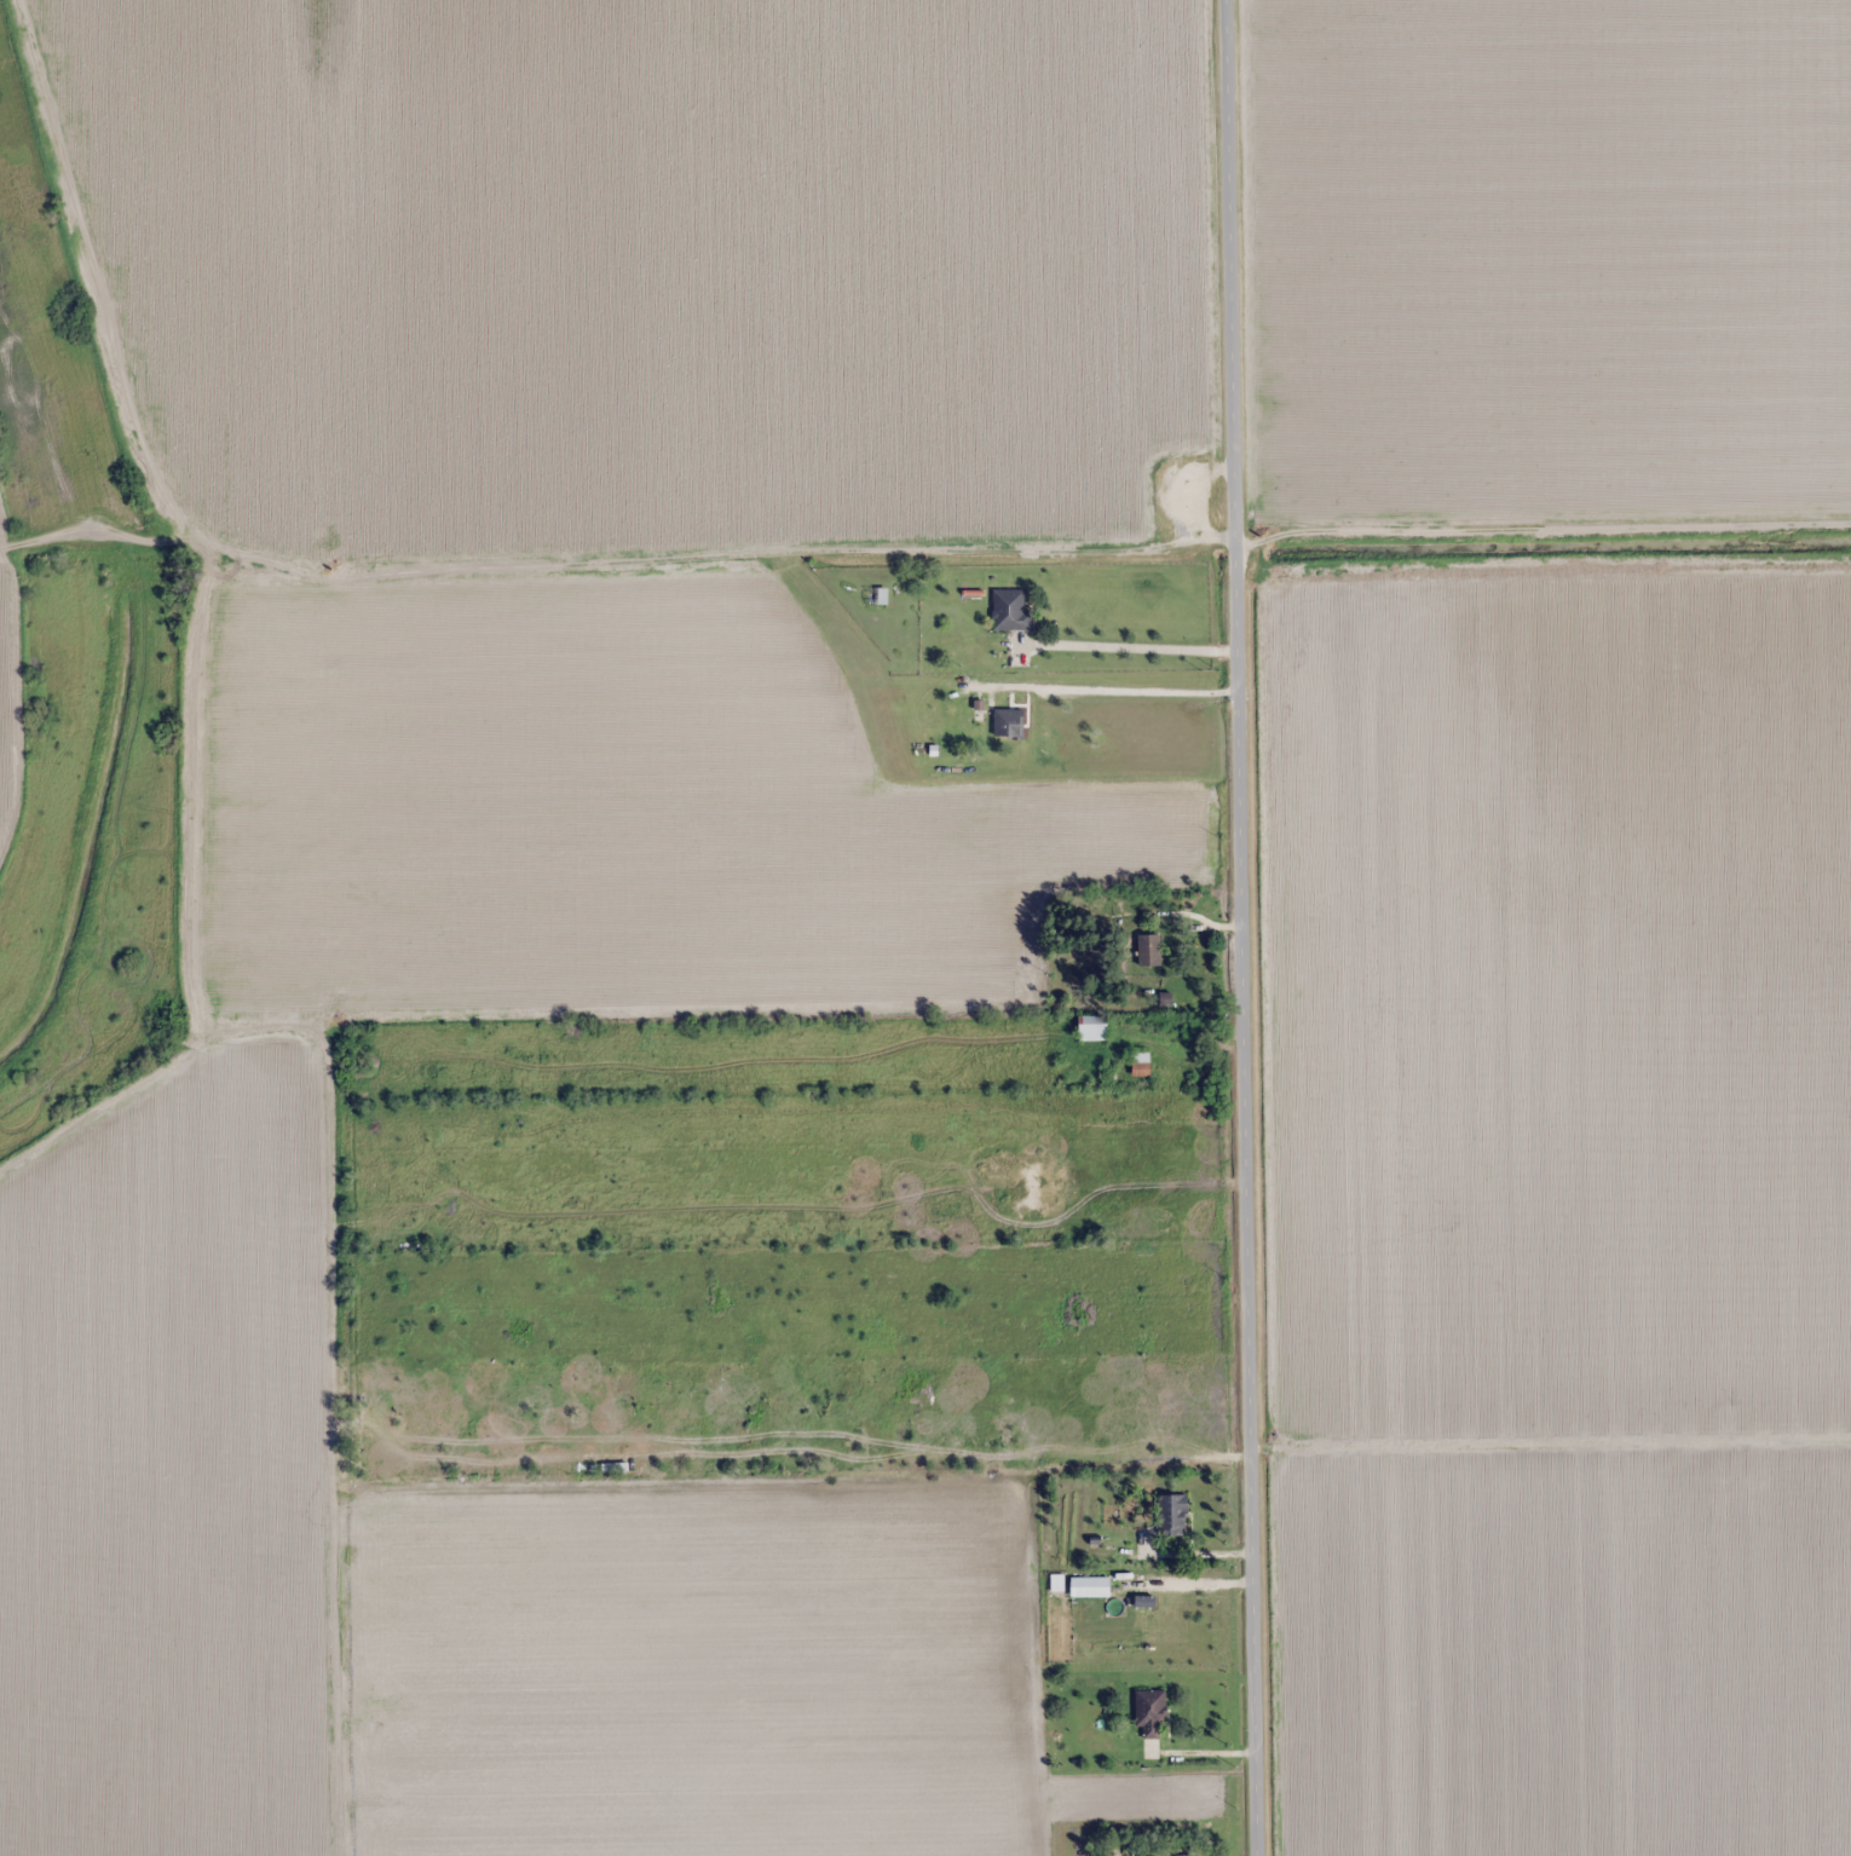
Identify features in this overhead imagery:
building: (878, 598)
building: (1010, 610)
building: (1009, 724)
road: (1234, 928)
building: (1149, 950)
building: (1094, 1032)
building: (1141, 1061)
building: (1174, 1514)
building: (1151, 1712)
building: (1187, 1855)

